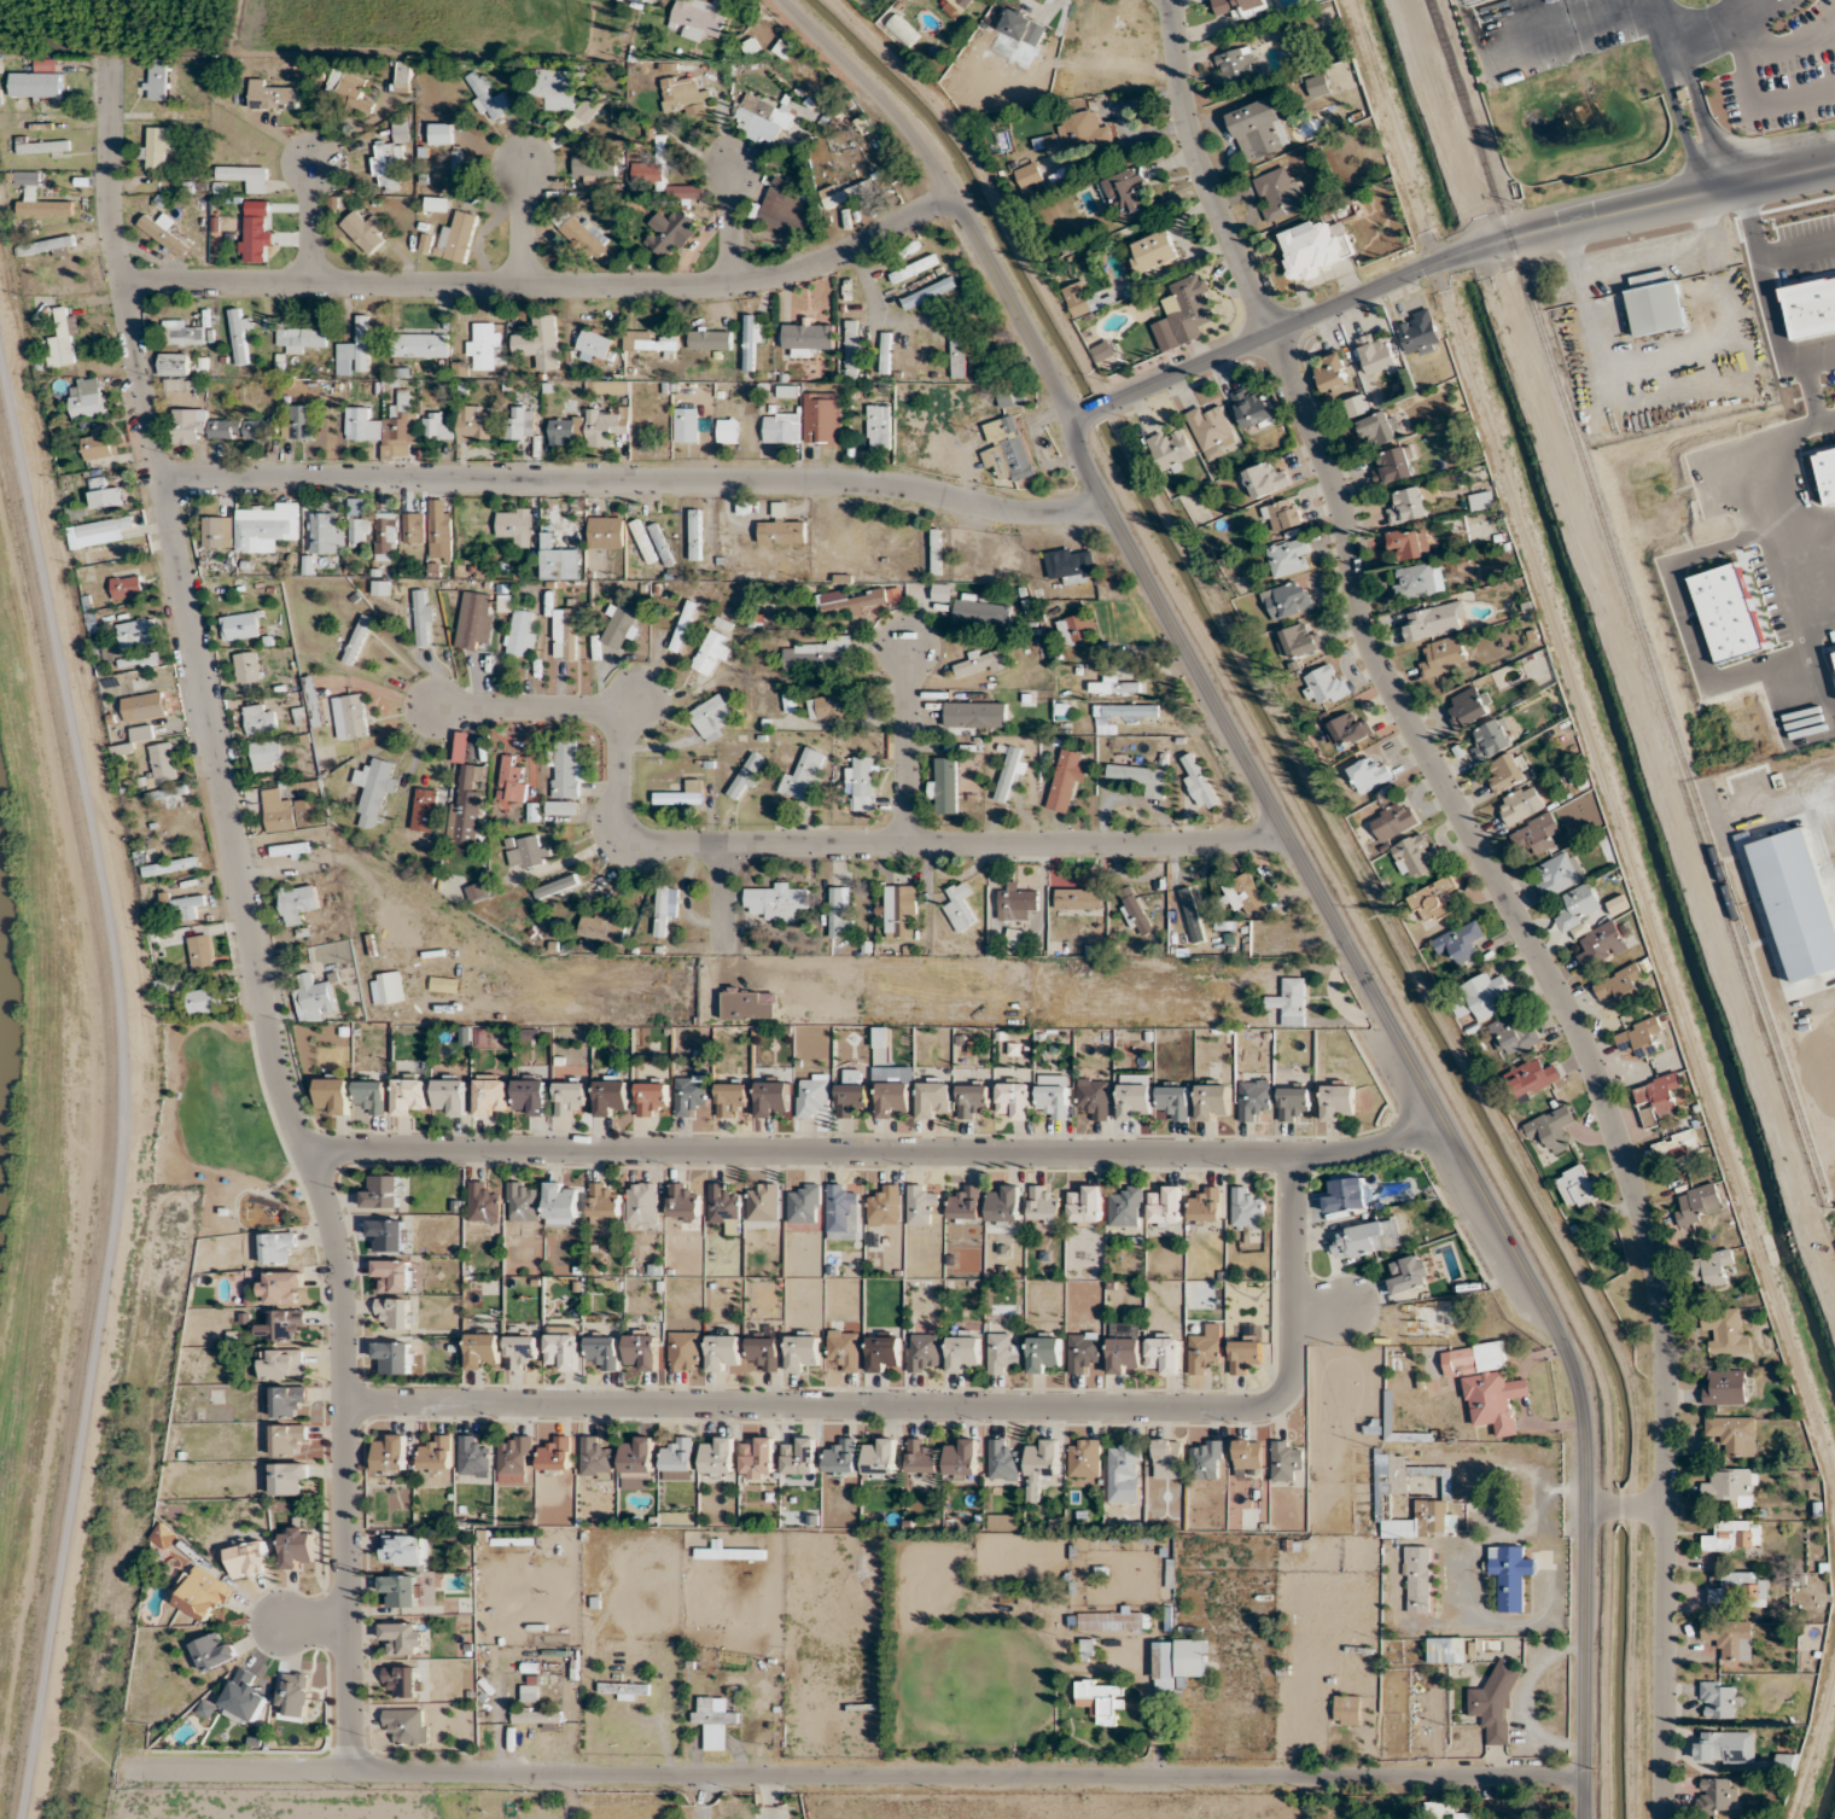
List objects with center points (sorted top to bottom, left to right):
building: (1474, 0)
building: (634, 2)
building: (956, 6)
building: (1242, 6)
building: (698, 18)
building: (1024, 25)
building: (902, 29)
road: (1746, 49)
building: (1233, 68)
road: (1674, 68)
road: (1660, 71)
building: (403, 76)
building: (161, 78)
building: (37, 80)
building: (1317, 84)
building: (554, 86)
building: (349, 88)
building: (272, 94)
building: (685, 95)
building: (489, 98)
building: (763, 117)
building: (1257, 127)
building: (1082, 129)
building: (439, 133)
road: (1701, 135)
road: (1677, 141)
building: (42, 145)
building: (158, 145)
building: (391, 156)
building: (588, 165)
building: (453, 169)
building: (648, 171)
building: (245, 176)
building: (1029, 176)
building: (687, 191)
building: (1126, 191)
building: (1278, 192)
building: (843, 194)
building: (36, 197)
road: (948, 197)
building: (437, 203)
building: (782, 211)
road: (315, 222)
road: (523, 223)
road: (729, 223)
building: (363, 229)
building: (249, 231)
building: (672, 232)
building: (163, 233)
building: (582, 233)
road: (1701, 233)
building: (456, 234)
building: (45, 245)
building: (1316, 247)
building: (1153, 251)
road: (1444, 261)
road: (1758, 261)
road: (1567, 262)
building: (913, 268)
road: (546, 285)
building: (928, 292)
building: (1078, 299)
building: (1655, 303)
building: (1190, 305)
road: (874, 307)
building: (182, 332)
building: (239, 333)
building: (1420, 333)
building: (809, 336)
building: (710, 338)
road: (1771, 338)
building: (302, 339)
building: (751, 339)
building: (649, 340)
building: (538, 342)
building: (594, 343)
building: (420, 344)
building: (484, 344)
building: (357, 345)
building: (852, 349)
building: (957, 350)
building: (1102, 350)
building: (885, 352)
building: (1377, 355)
building: (924, 358)
road: (1655, 358)
building: (174, 363)
building: (1332, 374)
building: (614, 386)
road: (1813, 395)
building: (1012, 396)
building: (1254, 408)
building: (823, 418)
building: (384, 421)
building: (299, 422)
building: (519, 422)
building: (188, 424)
building: (473, 424)
building: (686, 424)
building: (606, 425)
building: (436, 426)
building: (879, 426)
building: (782, 427)
building: (1377, 427)
building: (225, 428)
building: (260, 428)
building: (1211, 428)
building: (565, 430)
building: (727, 430)
building: (1173, 448)
building: (1008, 449)
building: (1396, 465)
road: (1795, 476)
building: (1263, 478)
road: (635, 479)
building: (1481, 500)
building: (1409, 506)
building: (1282, 514)
building: (359, 520)
building: (514, 523)
building: (264, 526)
building: (781, 527)
building: (413, 529)
building: (216, 531)
building: (322, 531)
building: (605, 532)
building: (695, 534)
building: (439, 536)
building: (385, 537)
building: (1409, 543)
building: (936, 550)
building: (1288, 556)
building: (558, 560)
building: (1071, 564)
road: (1821, 565)
building: (1417, 581)
building: (1287, 600)
railway: (1630, 602)
building: (981, 610)
building: (726, 616)
building: (423, 619)
building: (474, 619)
building: (1435, 620)
building: (240, 625)
building: (683, 625)
building: (621, 626)
building: (1077, 628)
building: (522, 632)
building: (569, 632)
building: (357, 639)
building: (1301, 639)
building: (712, 651)
building: (815, 654)
road: (1812, 654)
building: (1444, 655)
building: (981, 661)
building: (246, 666)
building: (1324, 684)
building: (1113, 687)
building: (313, 700)
building: (829, 705)
building: (1469, 706)
building: (980, 712)
building: (1132, 713)
building: (350, 716)
building: (712, 717)
building: (260, 718)
building: (1348, 730)
building: (1492, 740)
road: (905, 741)
building: (461, 748)
building: (267, 754)
building: (162, 762)
building: (566, 769)
building: (1508, 770)
building: (1009, 771)
building: (1370, 773)
building: (805, 775)
building: (746, 776)
building: (1142, 776)
building: (1066, 777)
building: (511, 779)
building: (862, 783)
building: (1200, 783)
building: (944, 785)
building: (375, 792)
building: (169, 794)
building: (682, 794)
building: (1521, 803)
building: (563, 806)
building: (424, 809)
building: (289, 811)
building: (466, 814)
building: (1394, 820)
building: (1537, 834)
road: (799, 841)
building: (290, 850)
building: (528, 851)
building: (1414, 856)
building: (170, 865)
building: (1560, 874)
building: (476, 891)
road: (1502, 891)
building: (1243, 893)
road: (724, 897)
building: (1079, 898)
building: (776, 900)
building: (1432, 900)
building: (1015, 902)
building: (297, 903)
building: (960, 903)
building: (187, 905)
building: (1578, 906)
building: (898, 908)
building: (664, 909)
building: (1134, 910)
building: (839, 913)
road: (246, 914)
building: (1192, 914)
building: (601, 927)
building: (1460, 941)
building: (1602, 944)
building: (200, 950)
building: (1620, 983)
building: (1485, 995)
building: (314, 998)
building: (204, 999)
building: (1289, 1001)
building: (1511, 1036)
building: (1639, 1037)
building: (881, 1038)
road: (128, 1071)
building: (1531, 1078)
building: (892, 1091)
road: (1429, 1092)
building: (691, 1094)
building: (812, 1094)
building: (333, 1095)
building: (409, 1095)
building: (491, 1095)
building: (1053, 1095)
building: (372, 1096)
building: (450, 1096)
building: (530, 1096)
building: (570, 1096)
building: (611, 1097)
building: (649, 1097)
building: (730, 1097)
building: (1094, 1097)
building: (1658, 1097)
building: (851, 1098)
building: (933, 1100)
building: (972, 1100)
building: (1014, 1100)
building: (1254, 1100)
building: (1135, 1101)
building: (1173, 1101)
building: (1212, 1101)
building: (1338, 1102)
building: (1294, 1103)
building: (1553, 1127)
park: (222, 1129)
building: (1678, 1143)
road: (878, 1160)
building: (1577, 1187)
building: (381, 1190)
building: (1341, 1194)
building: (561, 1200)
building: (523, 1201)
building: (642, 1201)
building: (682, 1201)
building: (763, 1201)
building: (1003, 1202)
building: (483, 1203)
building: (804, 1203)
building: (921, 1203)
building: (966, 1203)
building: (1043, 1203)
building: (1700, 1203)
building: (604, 1205)
building: (1084, 1205)
building: (1206, 1205)
building: (884, 1206)
building: (1164, 1206)
building: (724, 1207)
building: (1125, 1207)
building: (1246, 1208)
building: (841, 1212)
building: (388, 1234)
building: (1356, 1241)
building: (276, 1247)
building: (1714, 1267)
building: (1410, 1272)
building: (394, 1276)
building: (281, 1287)
road: (1317, 1307)
building: (394, 1311)
building: (282, 1324)
building: (1726, 1331)
building: (845, 1348)
building: (1125, 1348)
building: (1205, 1348)
building: (482, 1349)
building: (519, 1351)
building: (561, 1351)
building: (641, 1351)
building: (685, 1351)
building: (722, 1351)
building: (803, 1351)
building: (1083, 1351)
building: (764, 1352)
building: (925, 1352)
building: (1002, 1352)
building: (884, 1353)
building: (965, 1353)
building: (1044, 1354)
building: (1163, 1354)
building: (1245, 1355)
building: (395, 1357)
building: (282, 1363)
building: (1725, 1386)
building: (1486, 1391)
building: (287, 1400)
road: (928, 1407)
building: (1732, 1433)
building: (287, 1439)
building: (390, 1452)
building: (1167, 1452)
building: (436, 1453)
building: (1248, 1453)
building: (555, 1454)
building: (677, 1454)
building: (717, 1456)
building: (879, 1456)
building: (921, 1456)
building: (961, 1456)
building: (514, 1457)
building: (757, 1457)
building: (800, 1457)
building: (841, 1457)
building: (1043, 1457)
building: (1084, 1457)
building: (473, 1458)
building: (596, 1458)
building: (1205, 1458)
building: (1003, 1459)
building: (1286, 1459)
building: (636, 1463)
building: (1125, 1471)
building: (290, 1479)
building: (1731, 1486)
building: (1406, 1502)
road: (1626, 1506)
building: (1731, 1535)
building: (297, 1547)
building: (406, 1549)
building: (728, 1552)
building: (249, 1557)
building: (1510, 1574)
building: (1417, 1579)
building: (1740, 1588)
building: (401, 1591)
building: (202, 1593)
building: (1113, 1621)
road: (305, 1622)
building: (402, 1638)
building: (1729, 1638)
building: (1087, 1648)
building: (1445, 1649)
building: (212, 1651)
building: (1178, 1661)
building: (402, 1680)
building: (627, 1689)
building: (295, 1696)
building: (244, 1697)
building: (1102, 1698)
building: (1718, 1700)
building: (1495, 1702)
building: (1346, 1709)
building: (537, 1716)
building: (715, 1720)
building: (407, 1725)
building: (1724, 1747)
building: (1786, 1760)
road: (851, 1776)
building: (1715, 1795)
road: (699, 1797)
building: (1447, 1809)

